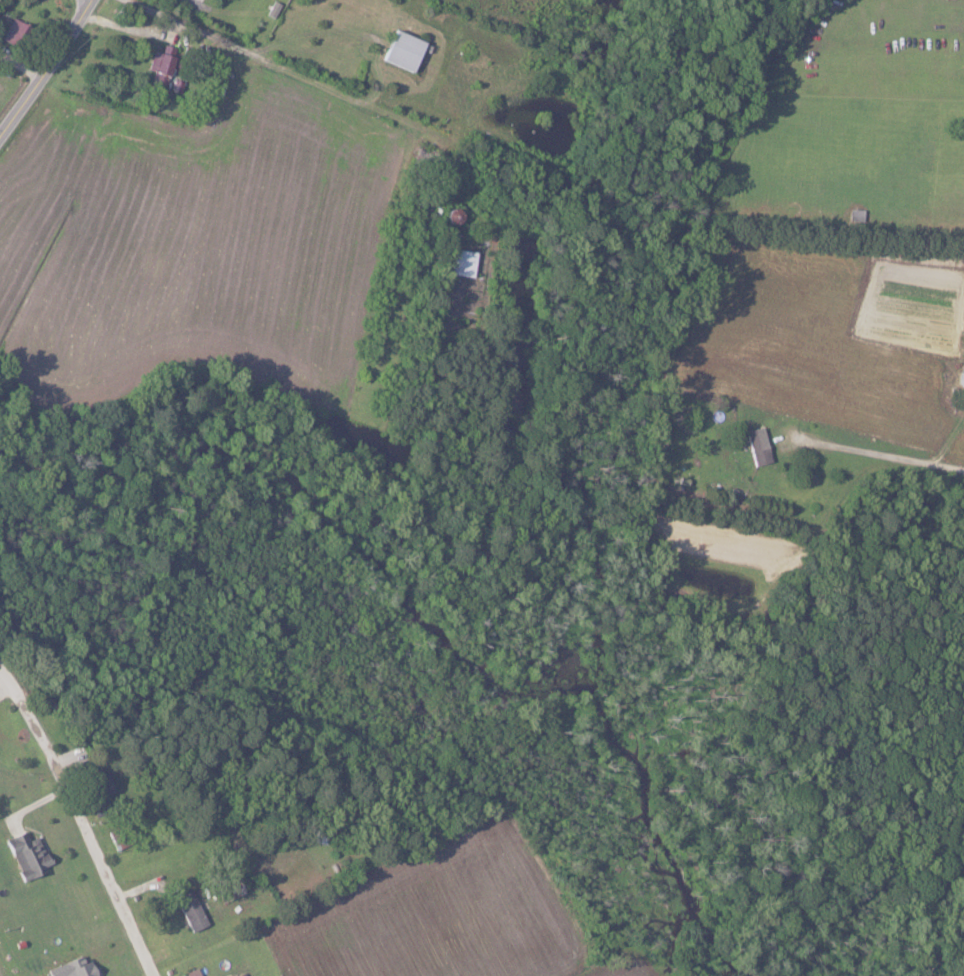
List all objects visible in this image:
building: (13, 31)
building: (401, 51)
building: (158, 70)
road: (48, 71)
road: (304, 77)
building: (460, 262)
building: (757, 446)
road: (880, 454)
road: (83, 814)
building: (26, 854)
building: (226, 890)
building: (190, 911)
building: (71, 968)
building: (189, 973)
building: (241, 974)

